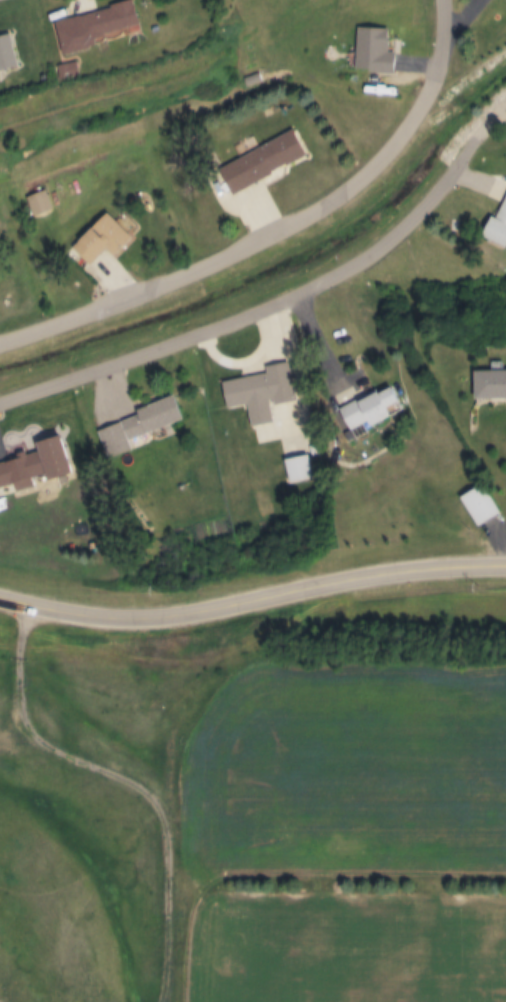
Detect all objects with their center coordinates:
building: (87, 26)
road: (447, 27)
building: (369, 53)
building: (3, 54)
road: (475, 135)
building: (259, 163)
building: (40, 203)
building: (496, 226)
building: (99, 241)
road: (254, 242)
river: (277, 269)
road: (241, 318)
road: (241, 359)
road: (288, 374)
building: (486, 388)
building: (263, 393)
building: (372, 411)
building: (141, 426)
building: (37, 465)
building: (305, 469)
building: (477, 506)
road: (252, 596)

